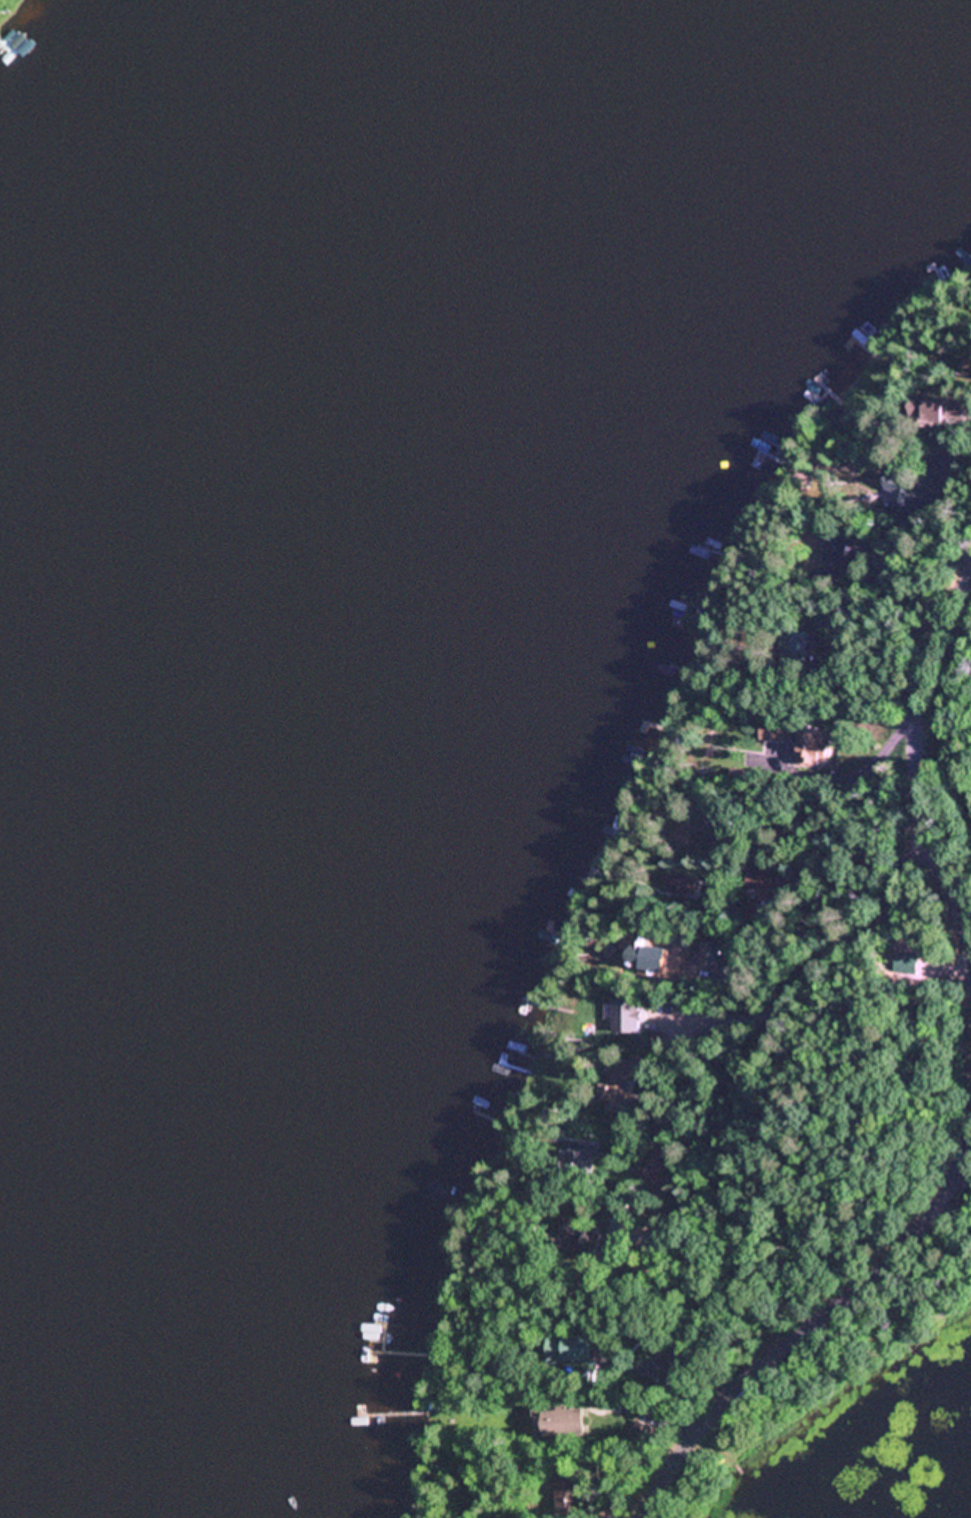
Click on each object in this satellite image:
building: (967, 368)
building: (938, 407)
building: (901, 493)
building: (833, 559)
building: (795, 646)
building: (775, 733)
building: (811, 749)
road: (915, 763)
building: (722, 840)
building: (680, 886)
road: (812, 976)
building: (615, 1087)
building: (580, 1161)
road: (808, 1327)
building: (571, 1350)
building: (560, 1423)
building: (570, 1493)

